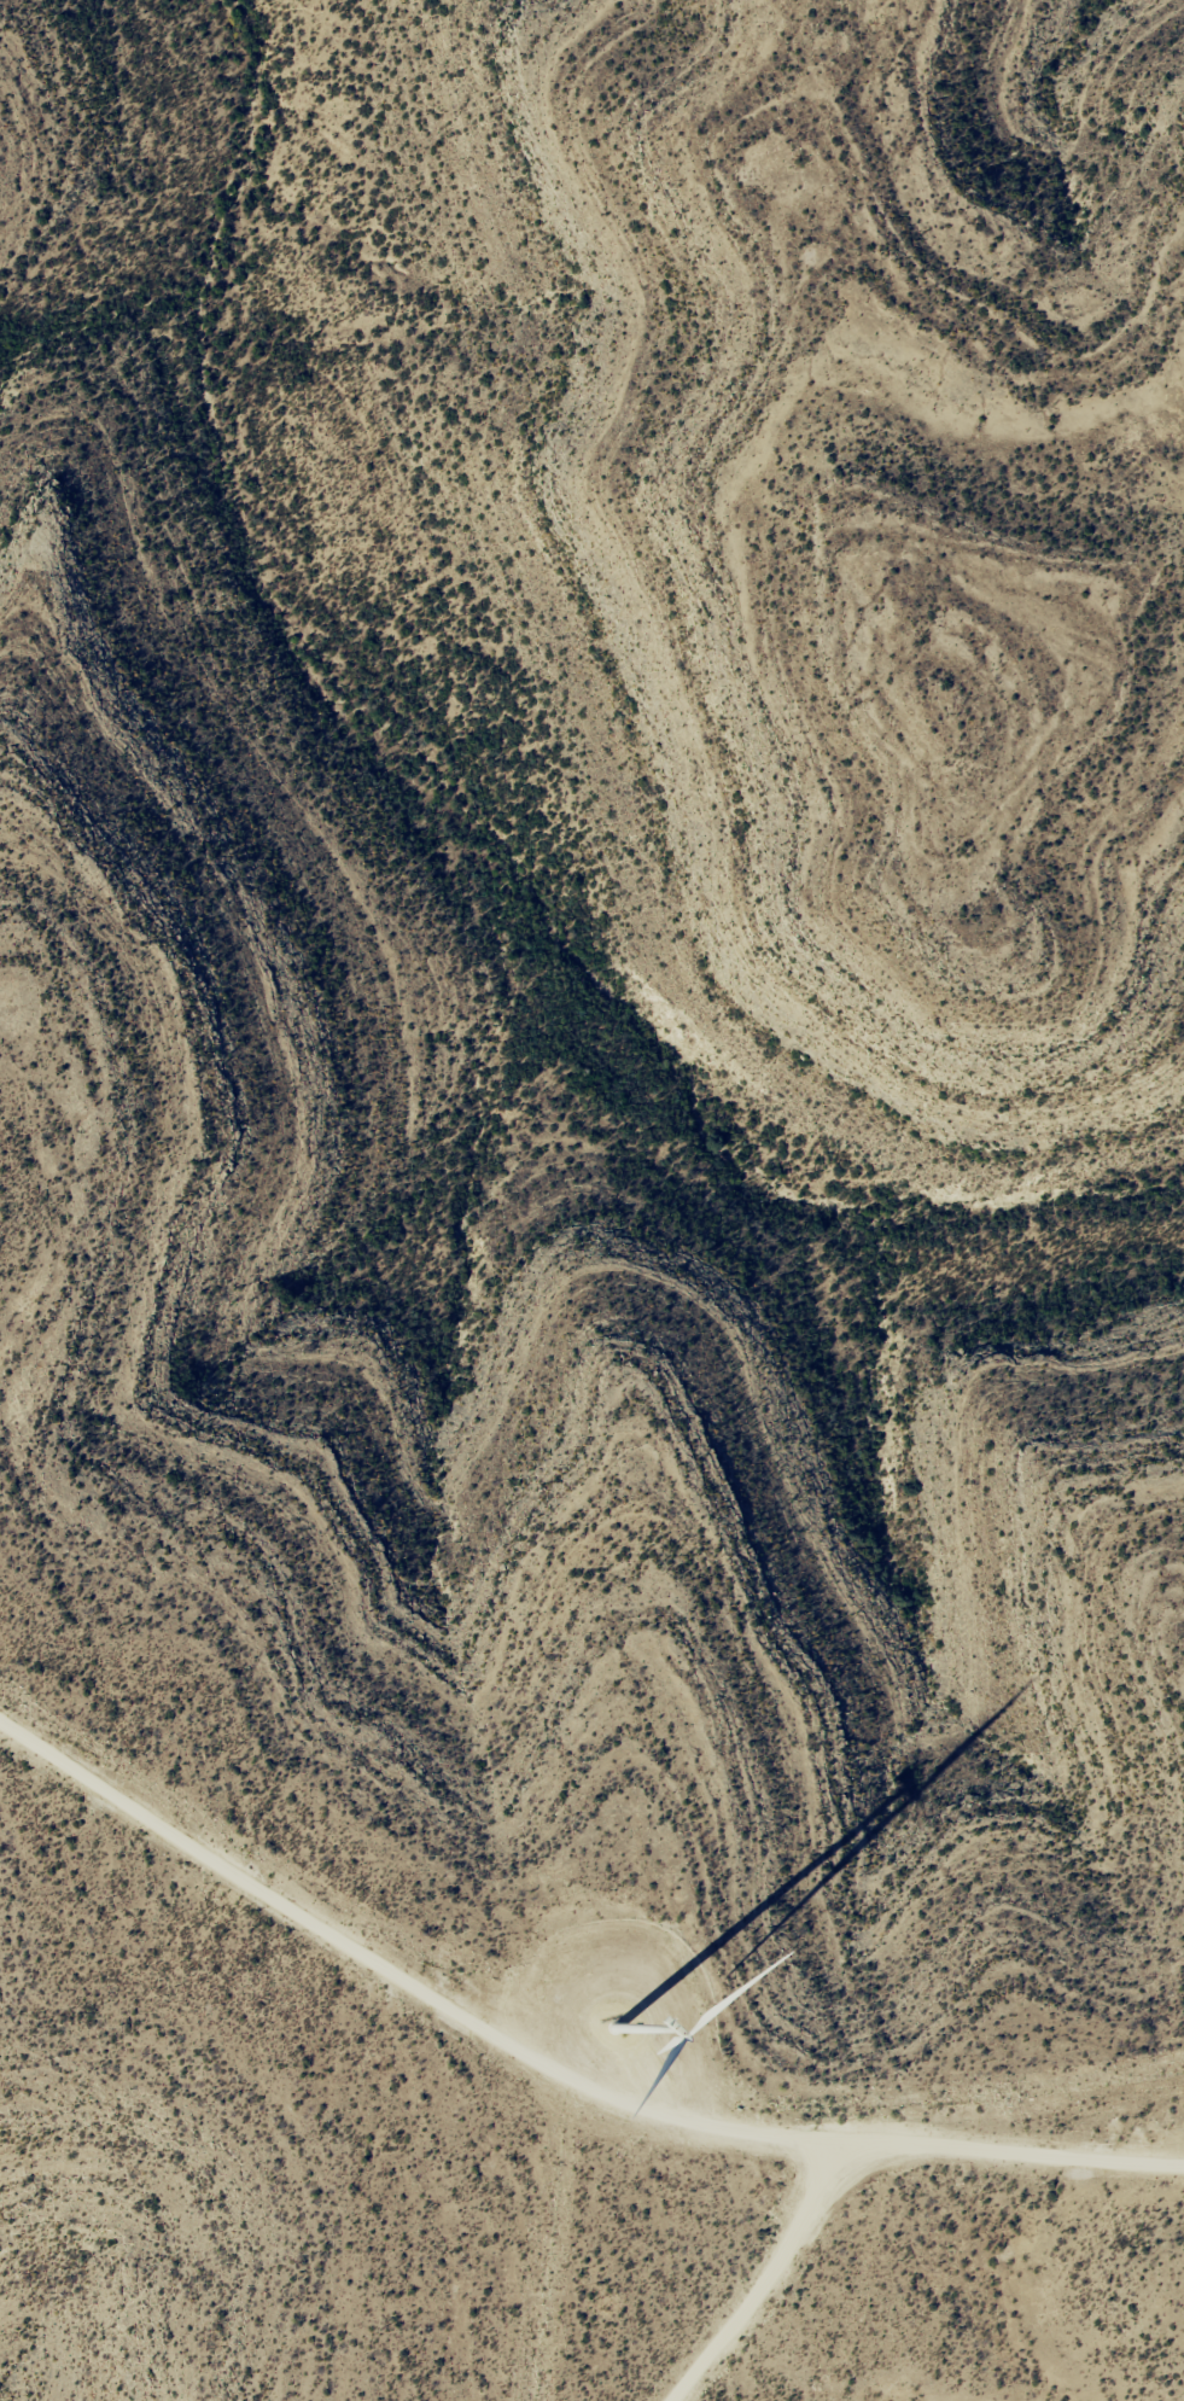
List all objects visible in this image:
wind turbine: (614, 2027)
road: (539, 2074)

